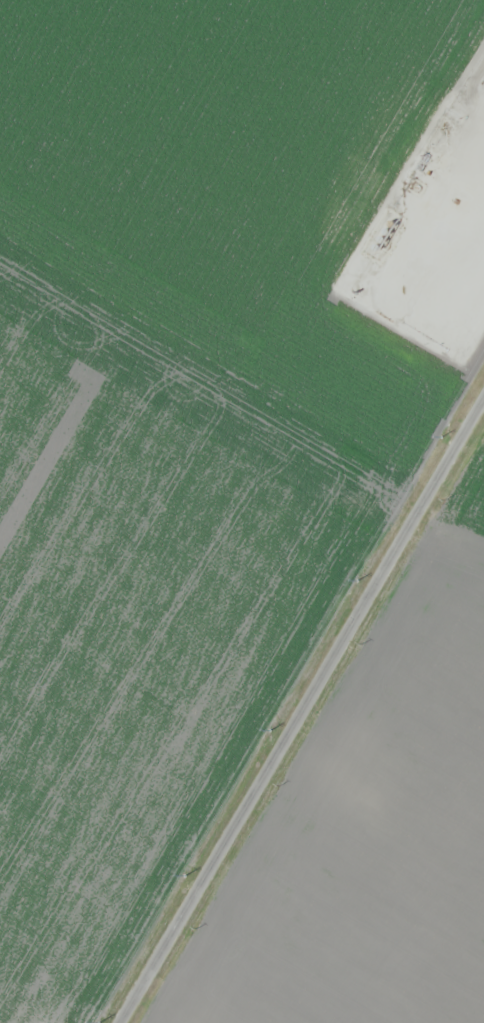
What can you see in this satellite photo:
road: (396, 251)
road: (301, 720)

